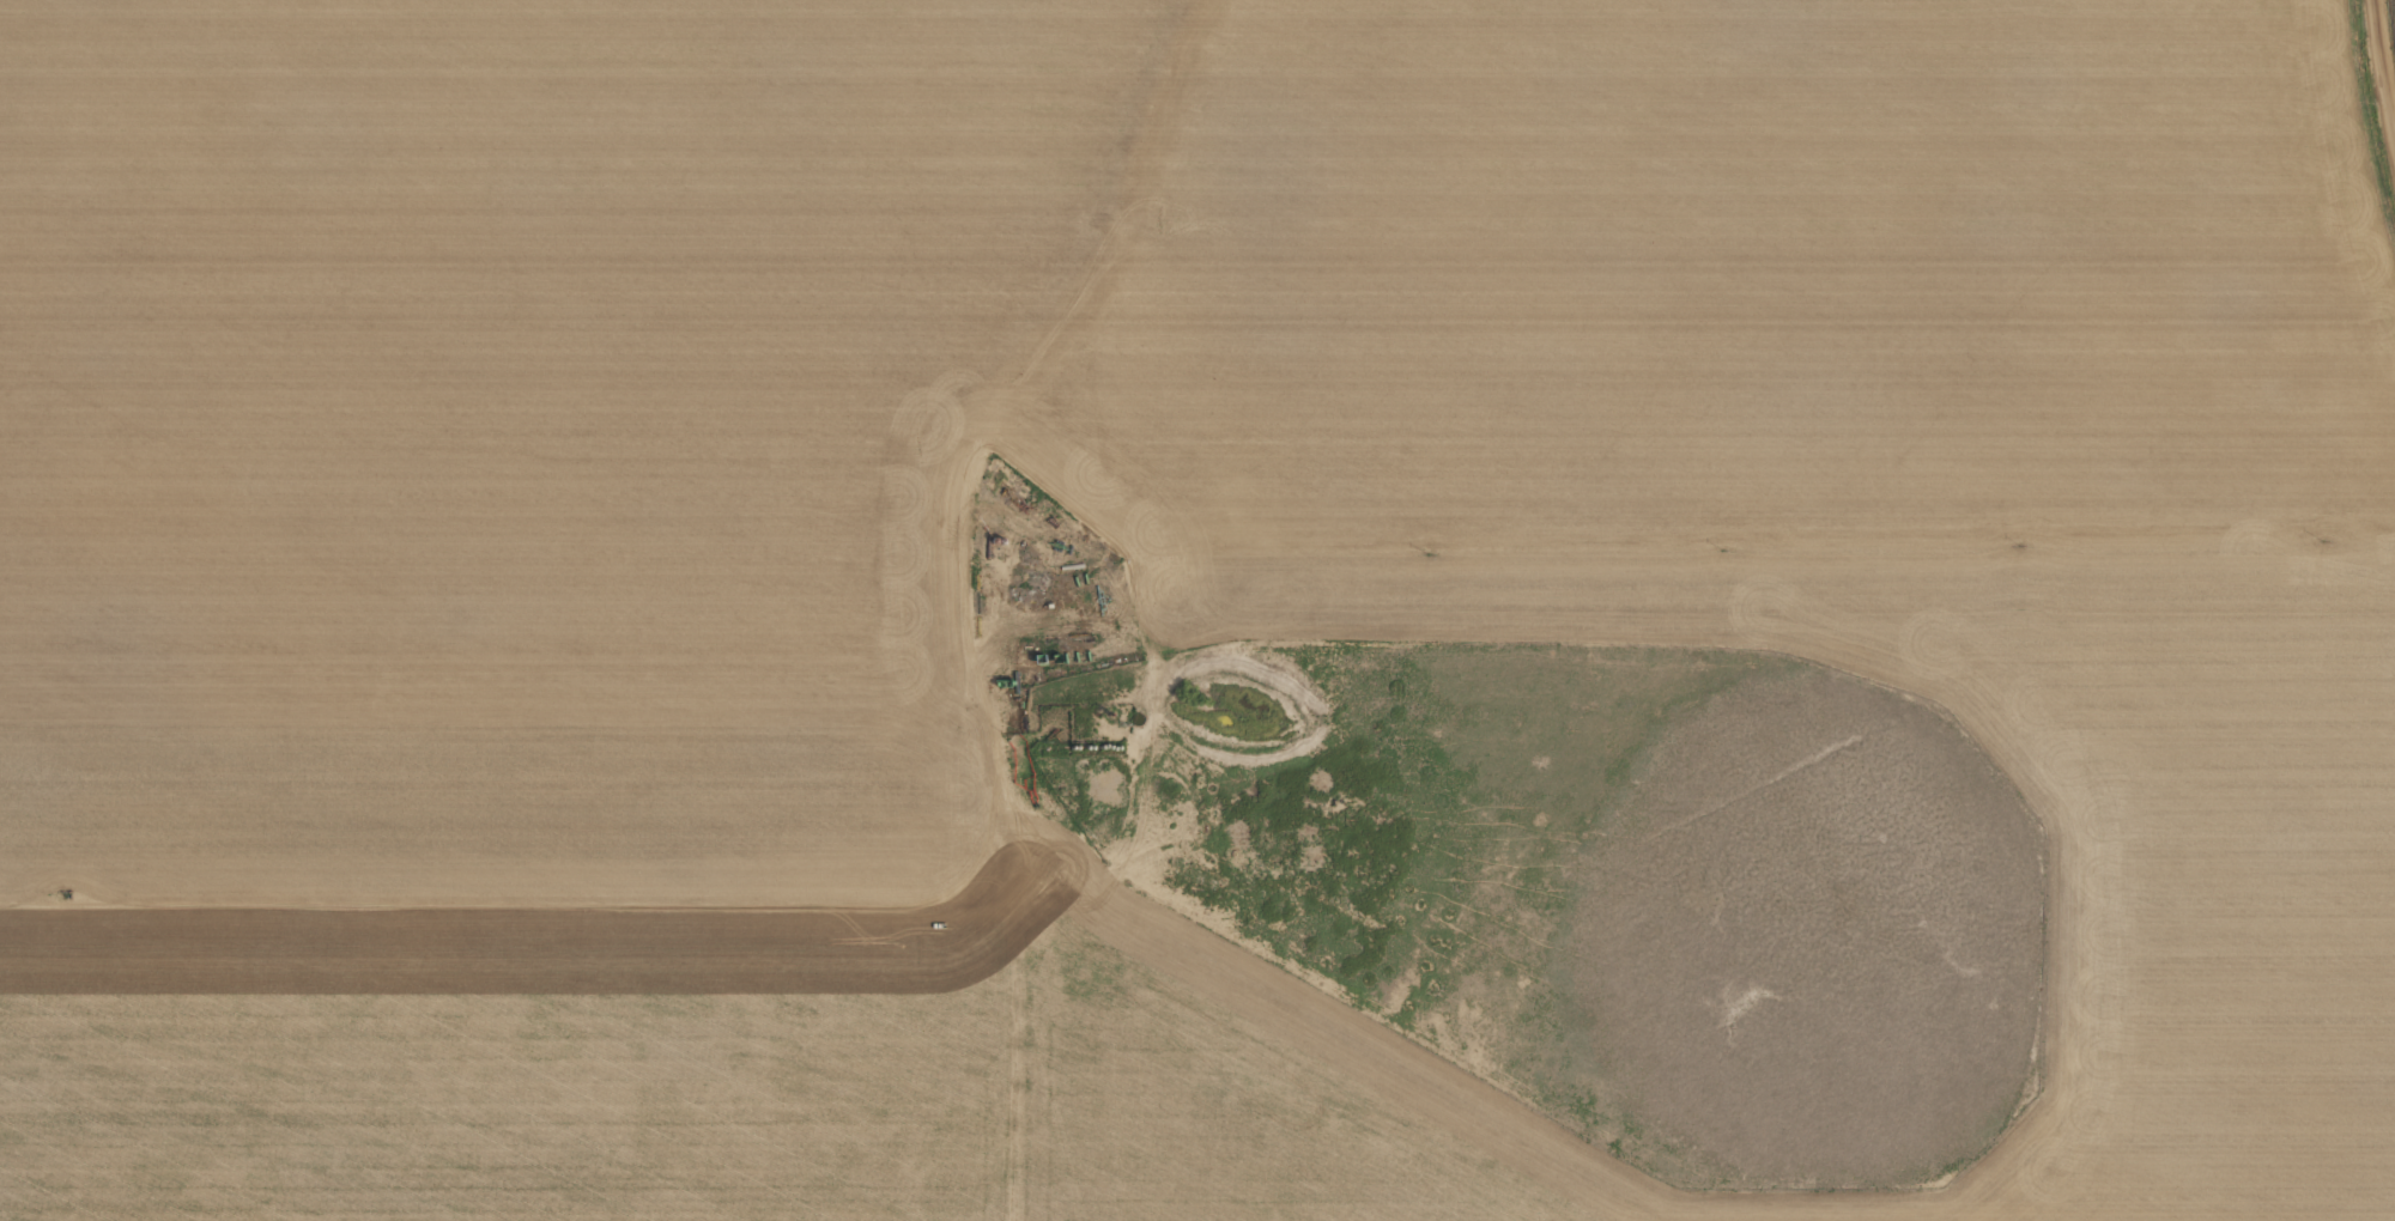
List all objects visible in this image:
road: (2382, 65)

